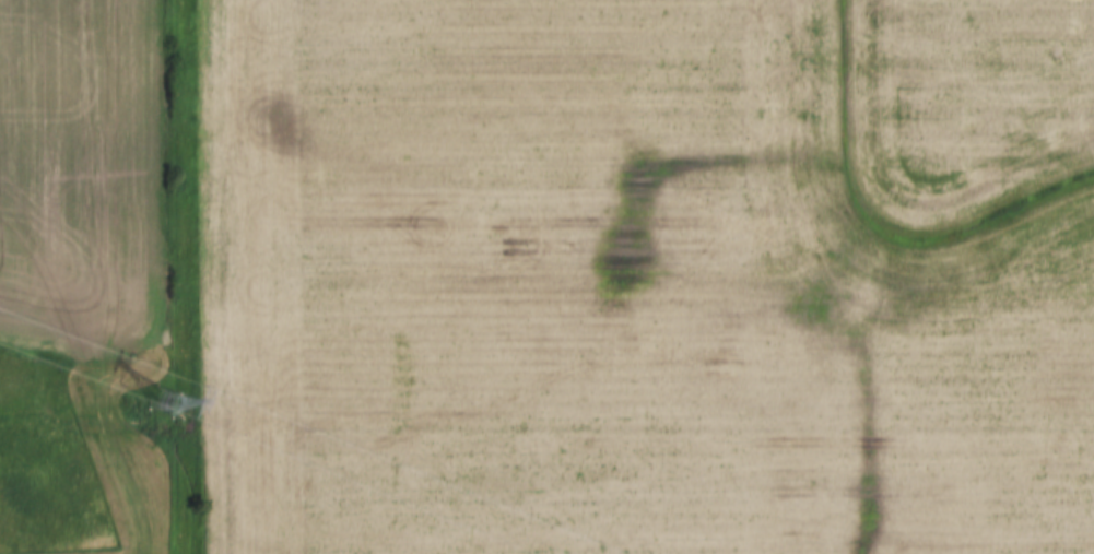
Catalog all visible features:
power tower: (154, 408)

